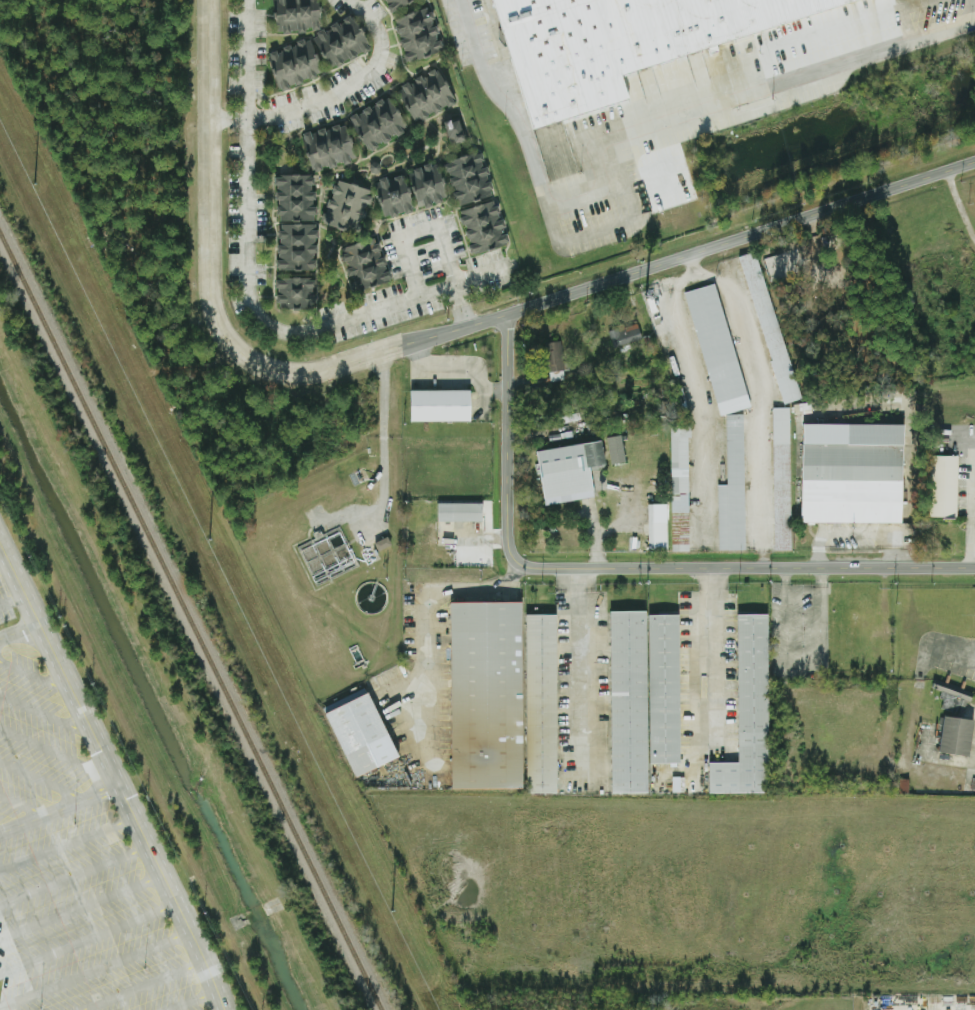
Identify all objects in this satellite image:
building: (396, 4)
building: (297, 15)
building: (419, 36)
building: (617, 42)
building: (342, 43)
building: (296, 65)
road: (247, 78)
road: (352, 88)
road: (758, 90)
building: (427, 99)
building: (379, 124)
building: (456, 133)
road: (524, 135)
building: (330, 147)
power tower: (33, 185)
building: (395, 195)
building: (477, 203)
road: (960, 204)
building: (347, 205)
road: (207, 211)
building: (297, 222)
road: (419, 231)
building: (366, 264)
road: (632, 271)
road: (476, 273)
building: (297, 292)
building: (769, 328)
road: (278, 332)
building: (624, 335)
building: (717, 349)
building: (554, 361)
road: (459, 371)
building: (440, 406)
road: (511, 440)
building: (679, 448)
road: (384, 449)
building: (616, 449)
building: (563, 471)
building: (851, 474)
building: (780, 479)
building: (942, 486)
building: (732, 489)
road: (974, 508)
building: (459, 512)
building: (679, 515)
building: (656, 527)
road: (603, 531)
road: (857, 532)
power tower: (208, 542)
building: (382, 543)
road: (780, 550)
road: (4, 563)
road: (739, 568)
road: (717, 569)
road: (575, 580)
road: (12, 600)
railway: (189, 624)
road: (19, 630)
road: (434, 637)
road: (716, 661)
road: (33, 676)
road: (579, 681)
building: (485, 696)
building: (642, 696)
building: (951, 699)
building: (540, 704)
building: (747, 713)
road: (47, 714)
road: (418, 733)
building: (360, 735)
building: (955, 735)
road: (57, 751)
road: (418, 767)
road: (114, 775)
road: (42, 781)
road: (22, 805)
road: (59, 810)
road: (3, 829)
road: (67, 844)
road: (74, 873)
road: (81, 906)
power tower: (390, 913)
road: (88, 938)
road: (95, 970)
road: (144, 986)
road: (193, 1000)

